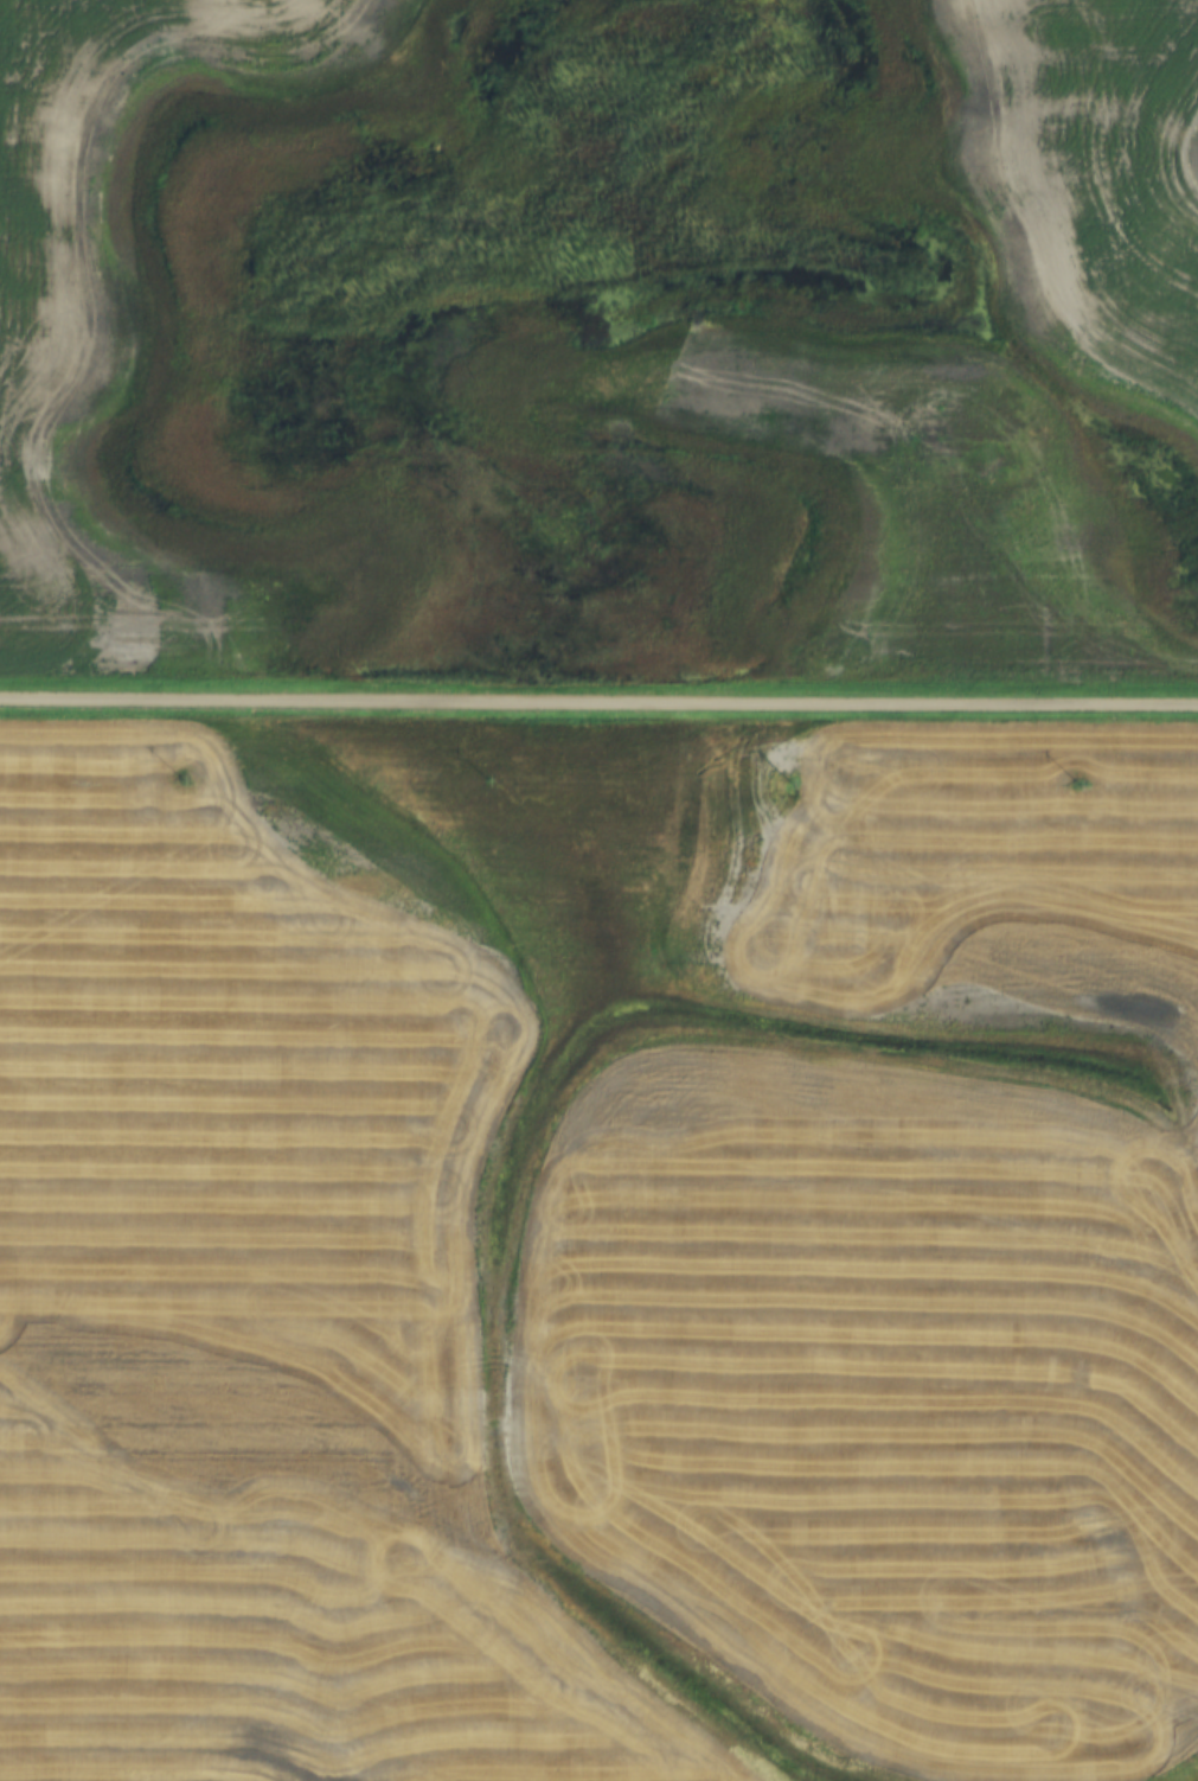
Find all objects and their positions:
road: (598, 701)

